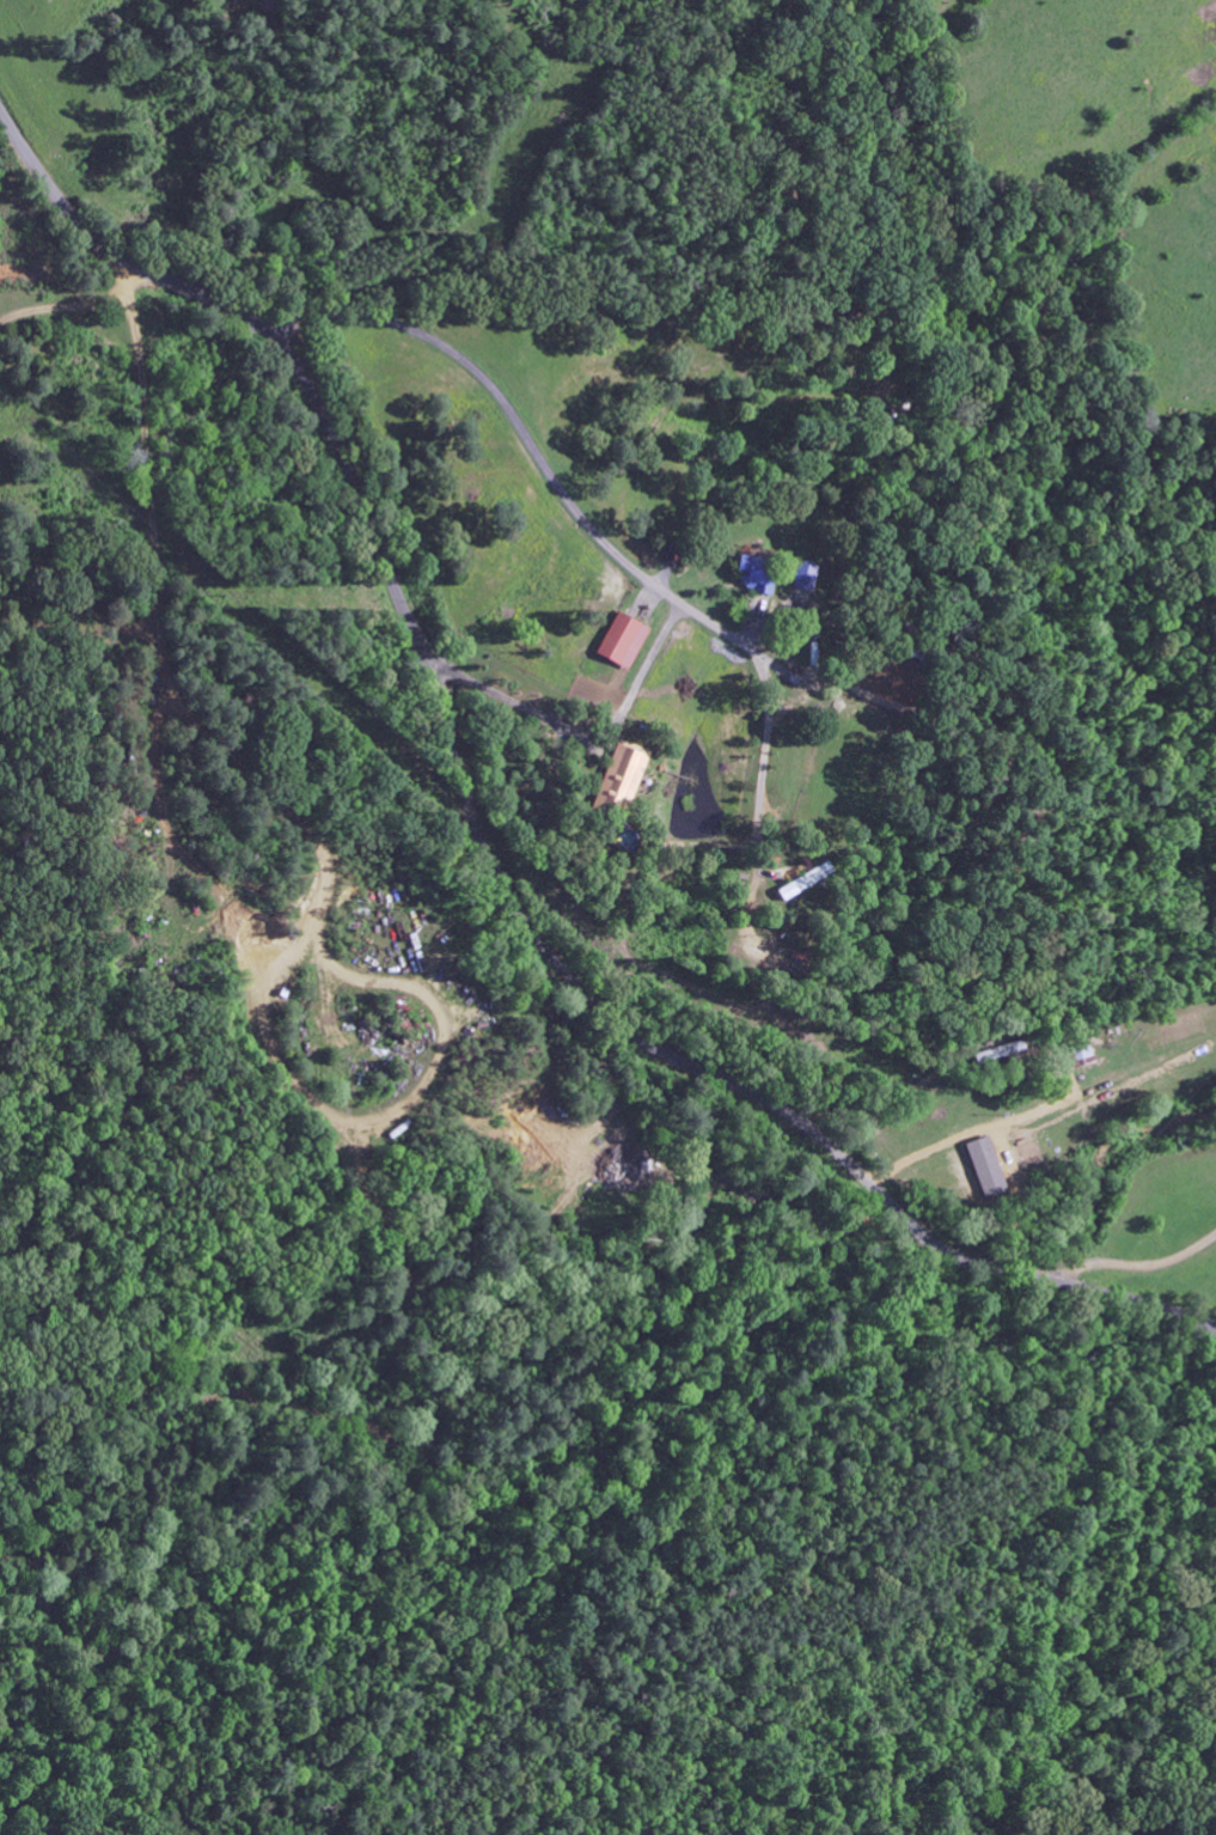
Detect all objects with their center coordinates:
road: (38, 261)
building: (748, 577)
building: (805, 578)
building: (621, 642)
building: (619, 778)
road: (478, 843)
building: (803, 883)
building: (1086, 1055)

